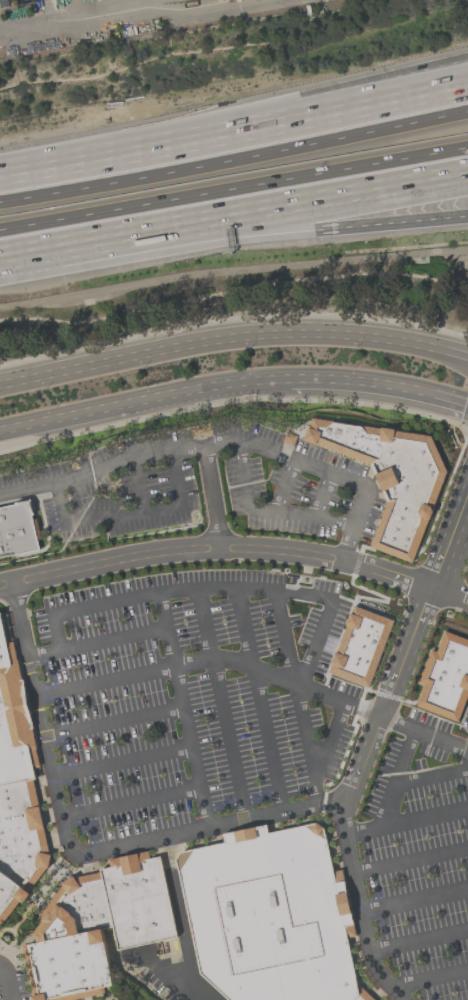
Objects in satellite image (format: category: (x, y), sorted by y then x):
road: (129, 11)
road: (319, 102)
road: (319, 115)
road: (85, 161)
road: (234, 162)
road: (234, 190)
road: (309, 203)
road: (309, 226)
road: (75, 244)
road: (232, 339)
road: (379, 383)
road: (143, 402)
road: (222, 445)
building: (391, 479)
road: (139, 486)
road: (283, 488)
road: (212, 498)
road: (324, 499)
road: (268, 514)
road: (128, 516)
building: (18, 532)
road: (235, 549)
road: (198, 589)
road: (328, 628)
road: (284, 640)
road: (99, 642)
road: (404, 649)
road: (166, 669)
building: (447, 681)
road: (261, 702)
road: (222, 706)
road: (186, 713)
building: (13, 722)
road: (115, 723)
road: (380, 723)
road: (329, 735)
road: (124, 764)
road: (432, 774)
road: (395, 783)
road: (318, 791)
road: (132, 804)
road: (407, 823)
road: (172, 840)
building: (20, 845)
road: (411, 863)
road: (416, 904)
building: (270, 917)
road: (182, 920)
building: (98, 927)
road: (420, 943)
road: (429, 981)
road: (4, 986)

